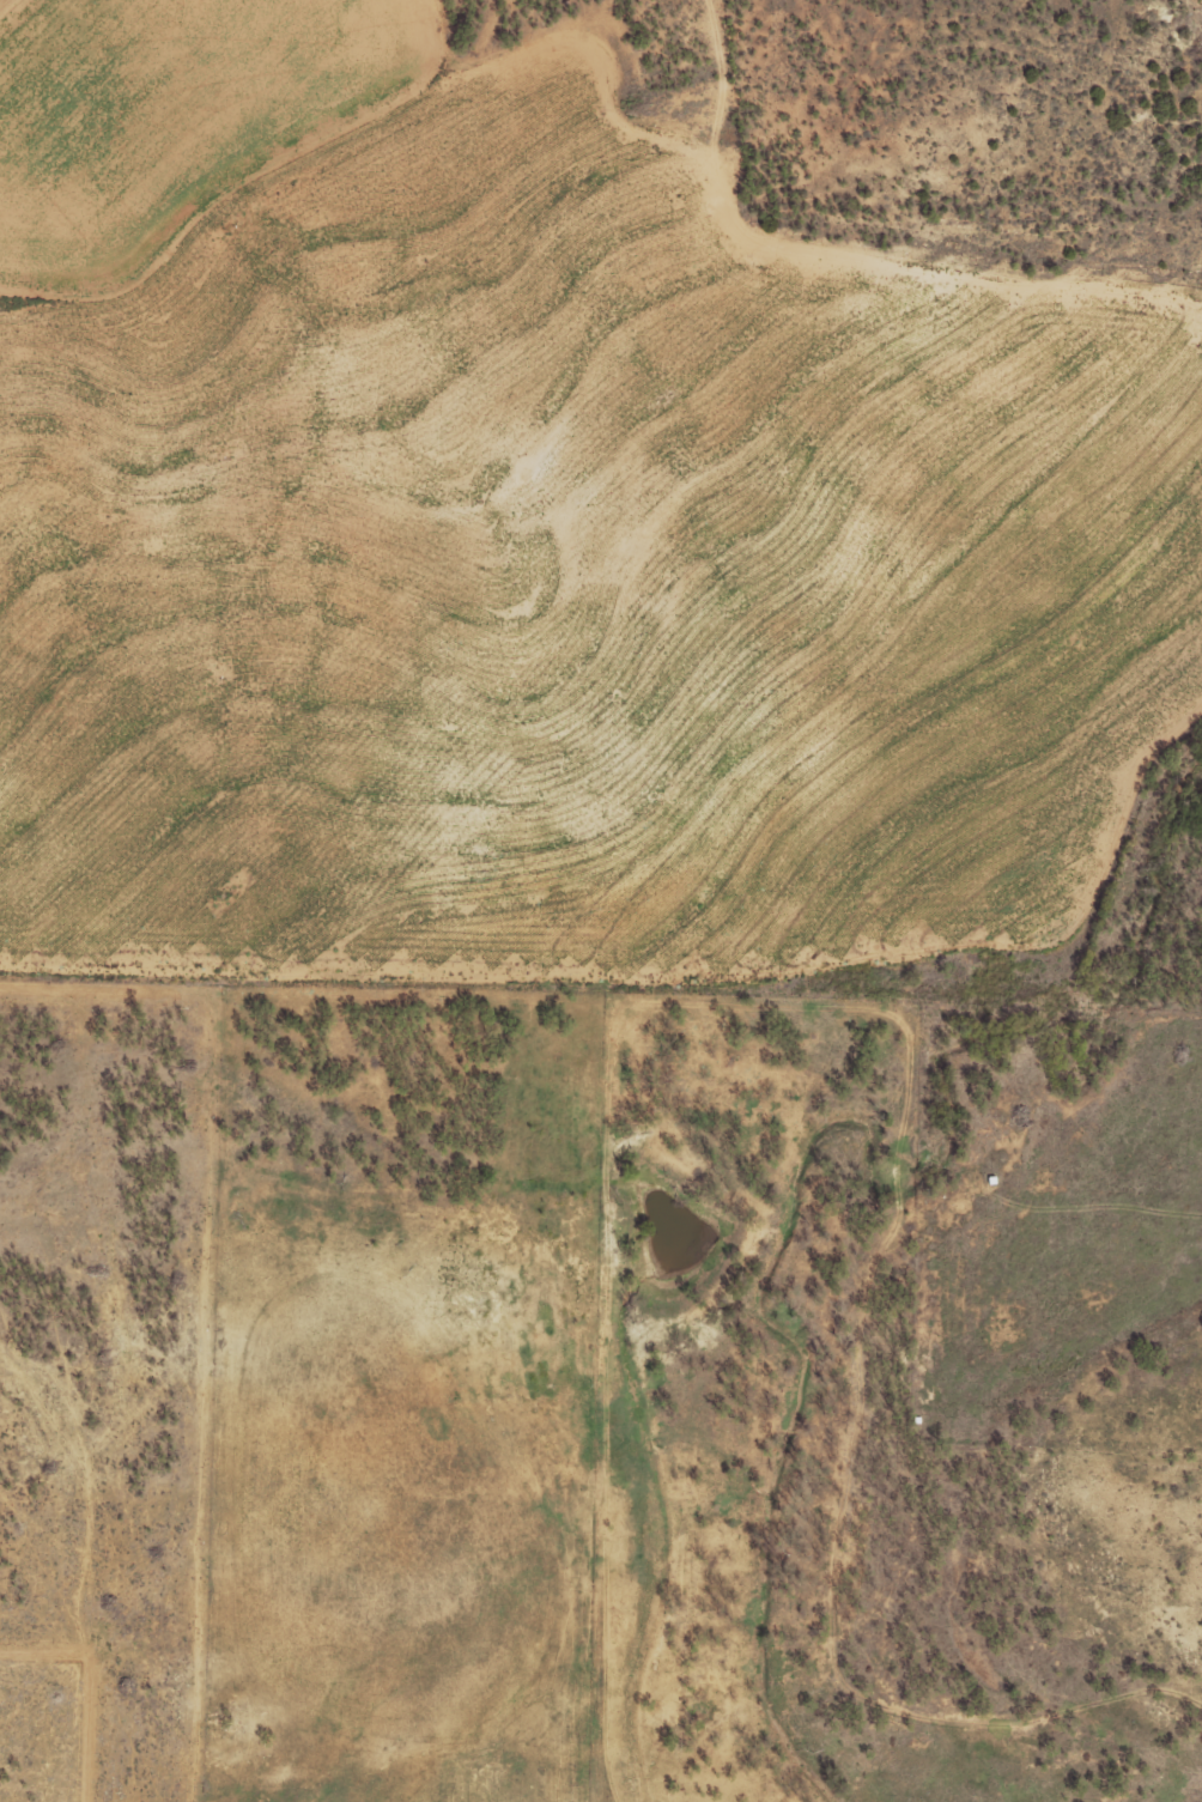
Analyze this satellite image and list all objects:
road: (658, 1657)

